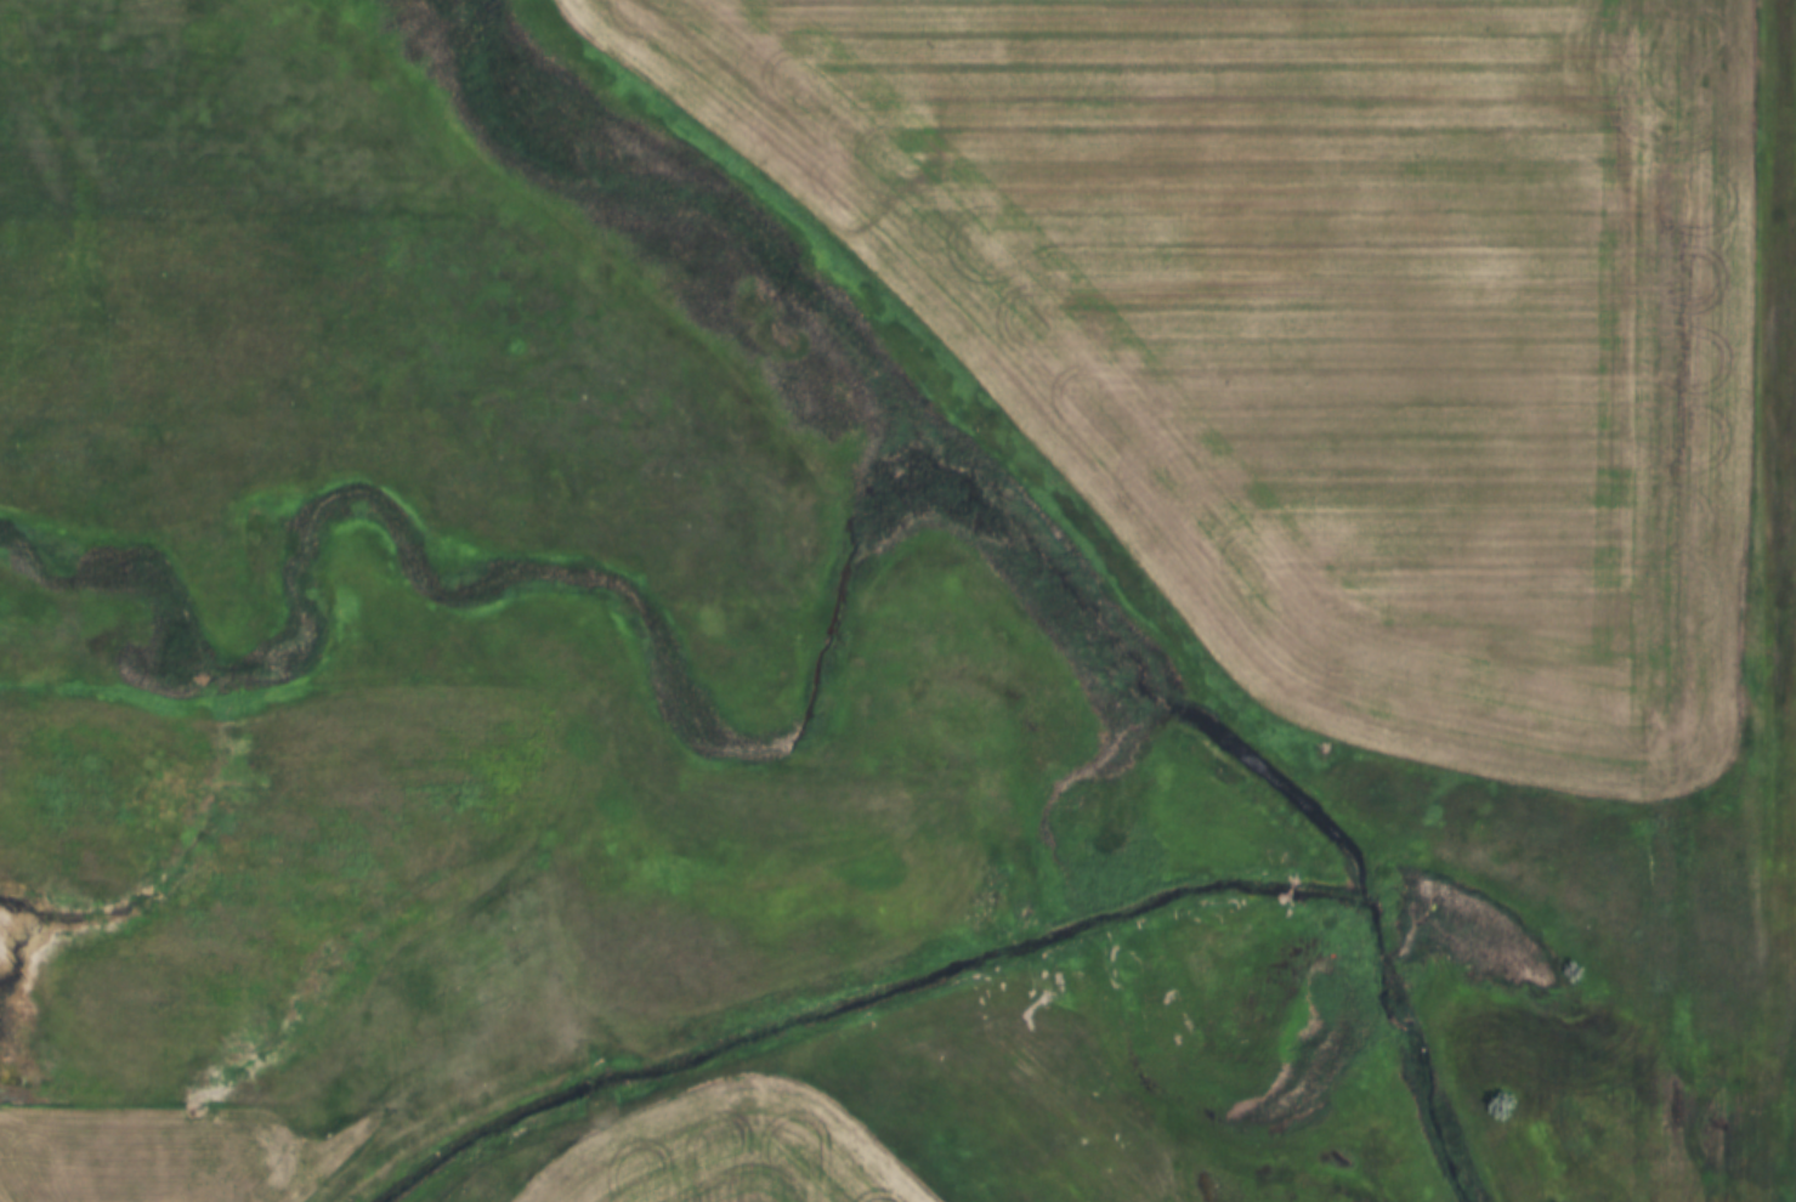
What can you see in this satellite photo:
airport: (170, 1153)

